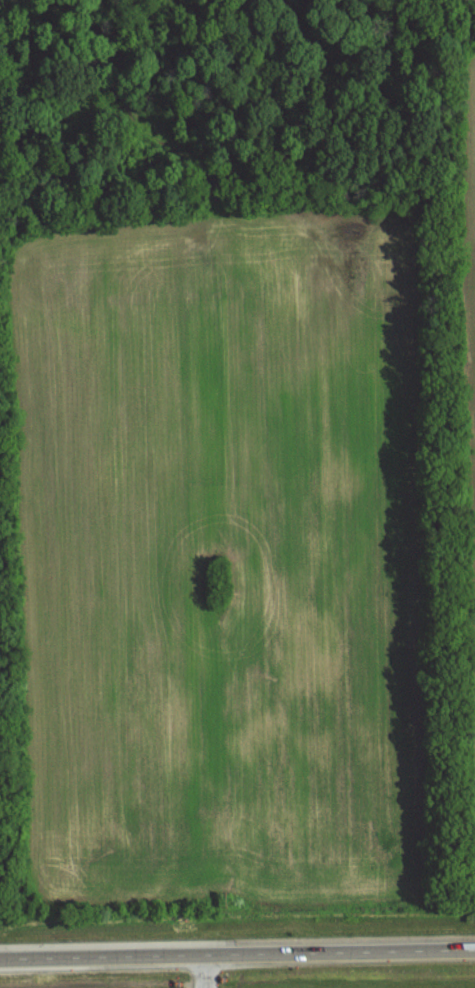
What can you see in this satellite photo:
road: (237, 954)
road: (199, 971)

